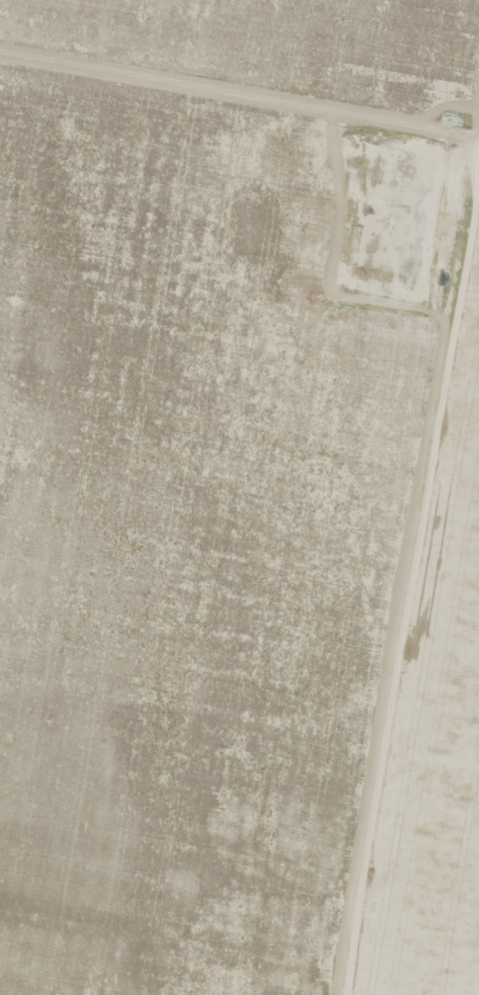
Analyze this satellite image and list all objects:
road: (239, 90)
road: (411, 584)

